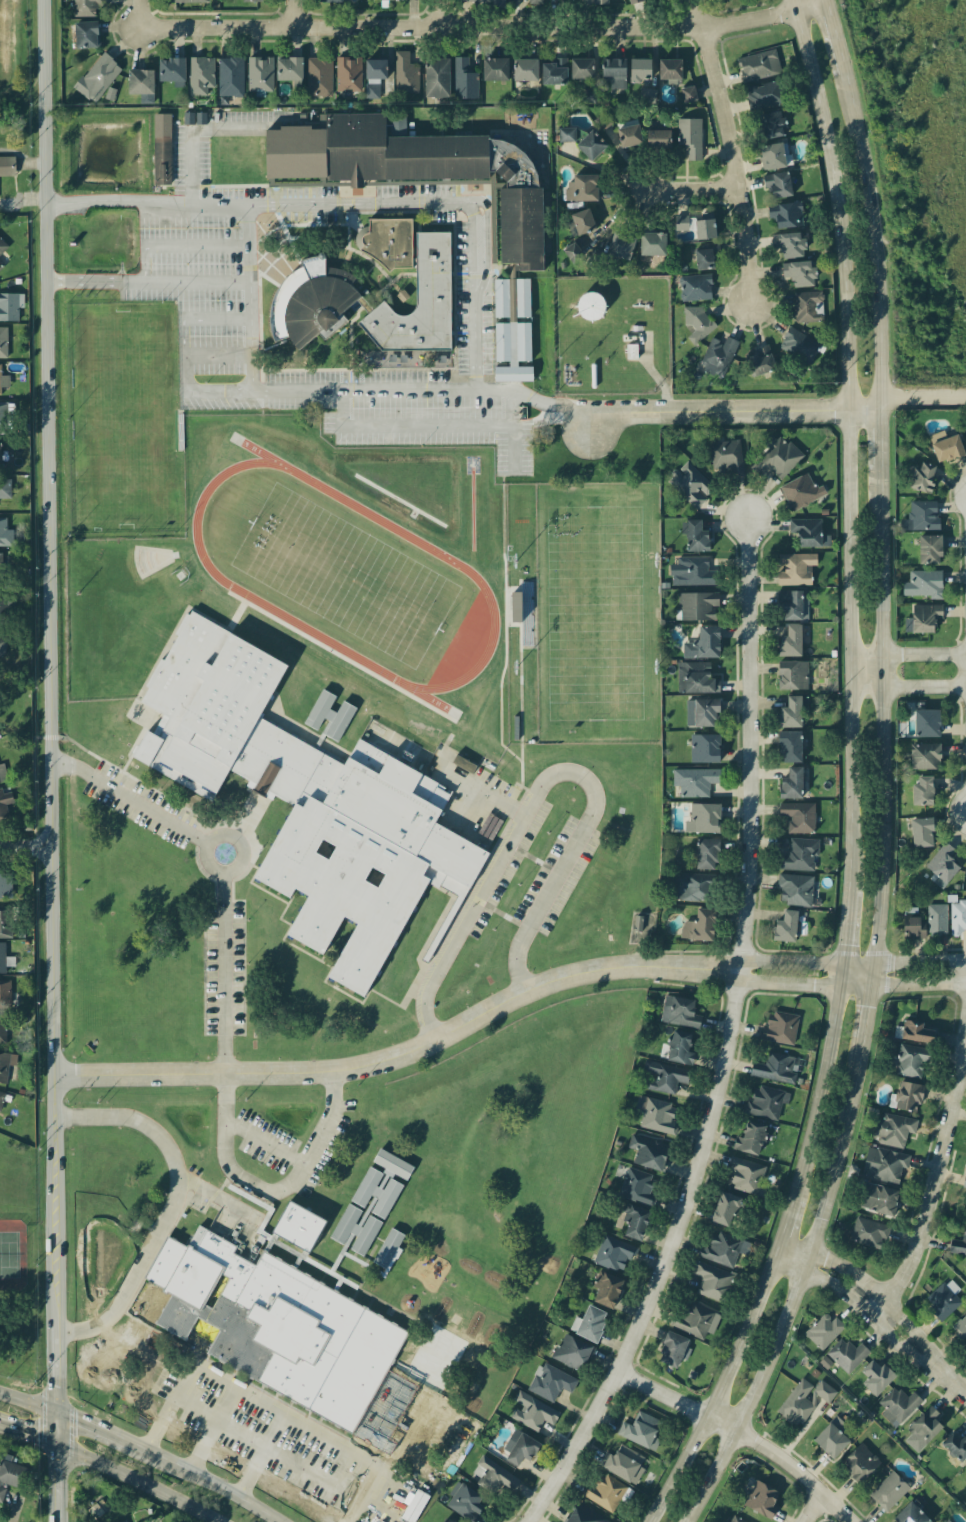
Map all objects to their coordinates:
building: (253, 0)
building: (188, 1)
building: (333, 1)
building: (483, 1)
building: (536, 1)
building: (601, 1)
building: (635, 1)
building: (385, 2)
building: (86, 7)
road: (148, 13)
road: (297, 13)
road: (444, 14)
road: (488, 27)
building: (86, 34)
building: (761, 63)
building: (579, 67)
building: (609, 67)
building: (666, 67)
building: (289, 68)
building: (375, 68)
building: (495, 68)
building: (170, 69)
building: (637, 69)
building: (550, 71)
building: (101, 73)
building: (260, 73)
building: (349, 73)
building: (406, 73)
building: (522, 73)
building: (200, 75)
building: (231, 76)
building: (319, 76)
building: (436, 77)
building: (464, 79)
building: (139, 81)
building: (372, 90)
building: (685, 92)
building: (648, 94)
building: (590, 95)
building: (762, 95)
building: (194, 118)
building: (767, 123)
road: (192, 128)
building: (625, 131)
building: (654, 133)
building: (567, 134)
building: (687, 138)
building: (586, 144)
building: (162, 149)
road: (729, 152)
building: (770, 154)
building: (6, 165)
building: (417, 169)
building: (329, 183)
building: (581, 185)
building: (771, 185)
road: (685, 187)
road: (144, 200)
road: (367, 202)
road: (71, 203)
road: (229, 204)
building: (783, 213)
building: (583, 221)
building: (680, 223)
building: (700, 226)
road: (486, 232)
road: (473, 239)
building: (386, 242)
building: (649, 244)
building: (781, 244)
building: (616, 245)
building: (3, 246)
road: (178, 246)
building: (572, 252)
flagpole: (272, 254)
building: (699, 256)
flagpole: (268, 257)
road: (247, 262)
building: (1, 264)
building: (797, 273)
road: (147, 280)
building: (693, 286)
building: (403, 295)
building: (312, 300)
building: (417, 302)
building: (807, 305)
building: (591, 306)
storage tank: (591, 306)
building: (9, 307)
road: (184, 323)
building: (698, 323)
building: (510, 329)
road: (476, 333)
building: (3, 342)
building: (798, 346)
building: (629, 351)
road: (217, 355)
road: (250, 355)
building: (714, 355)
building: (445, 360)
building: (755, 360)
building: (3, 380)
road: (363, 392)
road: (204, 393)
road: (237, 393)
road: (924, 399)
road: (535, 400)
road: (735, 410)
building: (3, 418)
park: (126, 419)
road: (409, 426)
road: (512, 432)
building: (942, 445)
building: (0, 454)
building: (774, 459)
building: (724, 460)
building: (918, 474)
building: (689, 483)
building: (5, 488)
building: (797, 491)
building: (920, 514)
building: (804, 531)
building: (5, 532)
building: (694, 534)
building: (926, 549)
building: (2, 561)
building: (692, 569)
building: (791, 569)
building: (921, 582)
building: (5, 602)
building: (792, 603)
building: (695, 605)
building: (924, 617)
road: (499, 619)
building: (785, 638)
building: (699, 640)
building: (3, 644)
road: (909, 652)
building: (789, 673)
building: (692, 675)
road: (910, 688)
road: (524, 689)
building: (788, 708)
building: (700, 710)
building: (923, 721)
building: (785, 744)
building: (702, 746)
building: (921, 753)
road: (51, 761)
building: (3, 773)
road: (886, 776)
road: (854, 778)
building: (694, 781)
building: (787, 781)
road: (486, 787)
building: (919, 788)
building: (320, 794)
road: (131, 800)
building: (4, 803)
building: (702, 815)
building: (797, 815)
road: (469, 824)
building: (918, 831)
road: (26, 844)
road: (206, 846)
road: (574, 849)
building: (701, 851)
building: (797, 854)
building: (942, 861)
building: (5, 884)
building: (691, 885)
building: (794, 889)
building: (957, 916)
building: (934, 918)
building: (4, 920)
building: (699, 920)
road: (465, 922)
building: (638, 923)
building: (908, 924)
building: (788, 926)
building: (2, 956)
road: (921, 962)
road: (807, 963)
road: (224, 972)
road: (804, 984)
road: (919, 985)
building: (5, 991)
building: (673, 1011)
building: (779, 1026)
building: (2, 1028)
building: (913, 1031)
road: (730, 1042)
building: (672, 1045)
road: (408, 1051)
building: (911, 1062)
building: (4, 1065)
building: (773, 1066)
building: (664, 1080)
building: (0, 1094)
building: (905, 1096)
building: (764, 1100)
building: (656, 1114)
building: (891, 1131)
building: (747, 1137)
road: (266, 1141)
building: (644, 1150)
building: (882, 1167)
road: (937, 1168)
building: (737, 1173)
building: (964, 1177)
building: (633, 1185)
road: (272, 1191)
building: (875, 1199)
road: (220, 1203)
road: (172, 1205)
building: (720, 1209)
building: (628, 1222)
building: (865, 1234)
building: (955, 1244)
park: (11, 1250)
building: (716, 1252)
building: (612, 1254)
park: (21, 1266)
building: (703, 1282)
building: (604, 1290)
building: (290, 1295)
road: (887, 1301)
building: (940, 1302)
building: (693, 1319)
building: (587, 1321)
building: (820, 1330)
building: (960, 1334)
building: (566, 1350)
building: (670, 1351)
building: (852, 1355)
building: (875, 1377)
building: (547, 1379)
road: (184, 1382)
building: (825, 1391)
building: (795, 1403)
road: (29, 1404)
building: (896, 1405)
traffic signals: (59, 1413)
building: (529, 1413)
road: (159, 1424)
building: (926, 1425)
road: (305, 1428)
road: (97, 1429)
building: (642, 1429)
road: (212, 1430)
road: (748, 1433)
road: (29, 1435)
building: (827, 1442)
building: (953, 1444)
traffic signals: (59, 1445)
building: (513, 1448)
road: (260, 1456)
road: (286, 1459)
building: (620, 1463)
building: (857, 1464)
building: (964, 1469)
building: (10, 1471)
building: (492, 1476)
road: (138, 1481)
road: (208, 1481)
building: (888, 1490)
building: (2, 1492)
building: (604, 1492)
road: (363, 1496)
building: (761, 1498)
building: (463, 1500)
road: (407, 1507)
road: (821, 1508)
building: (97, 1509)
building: (906, 1513)
building: (581, 1514)
building: (734, 1519)
building: (442, 1520)
building: (944, 1520)
building: (949, 1520)
building: (124, 1521)

